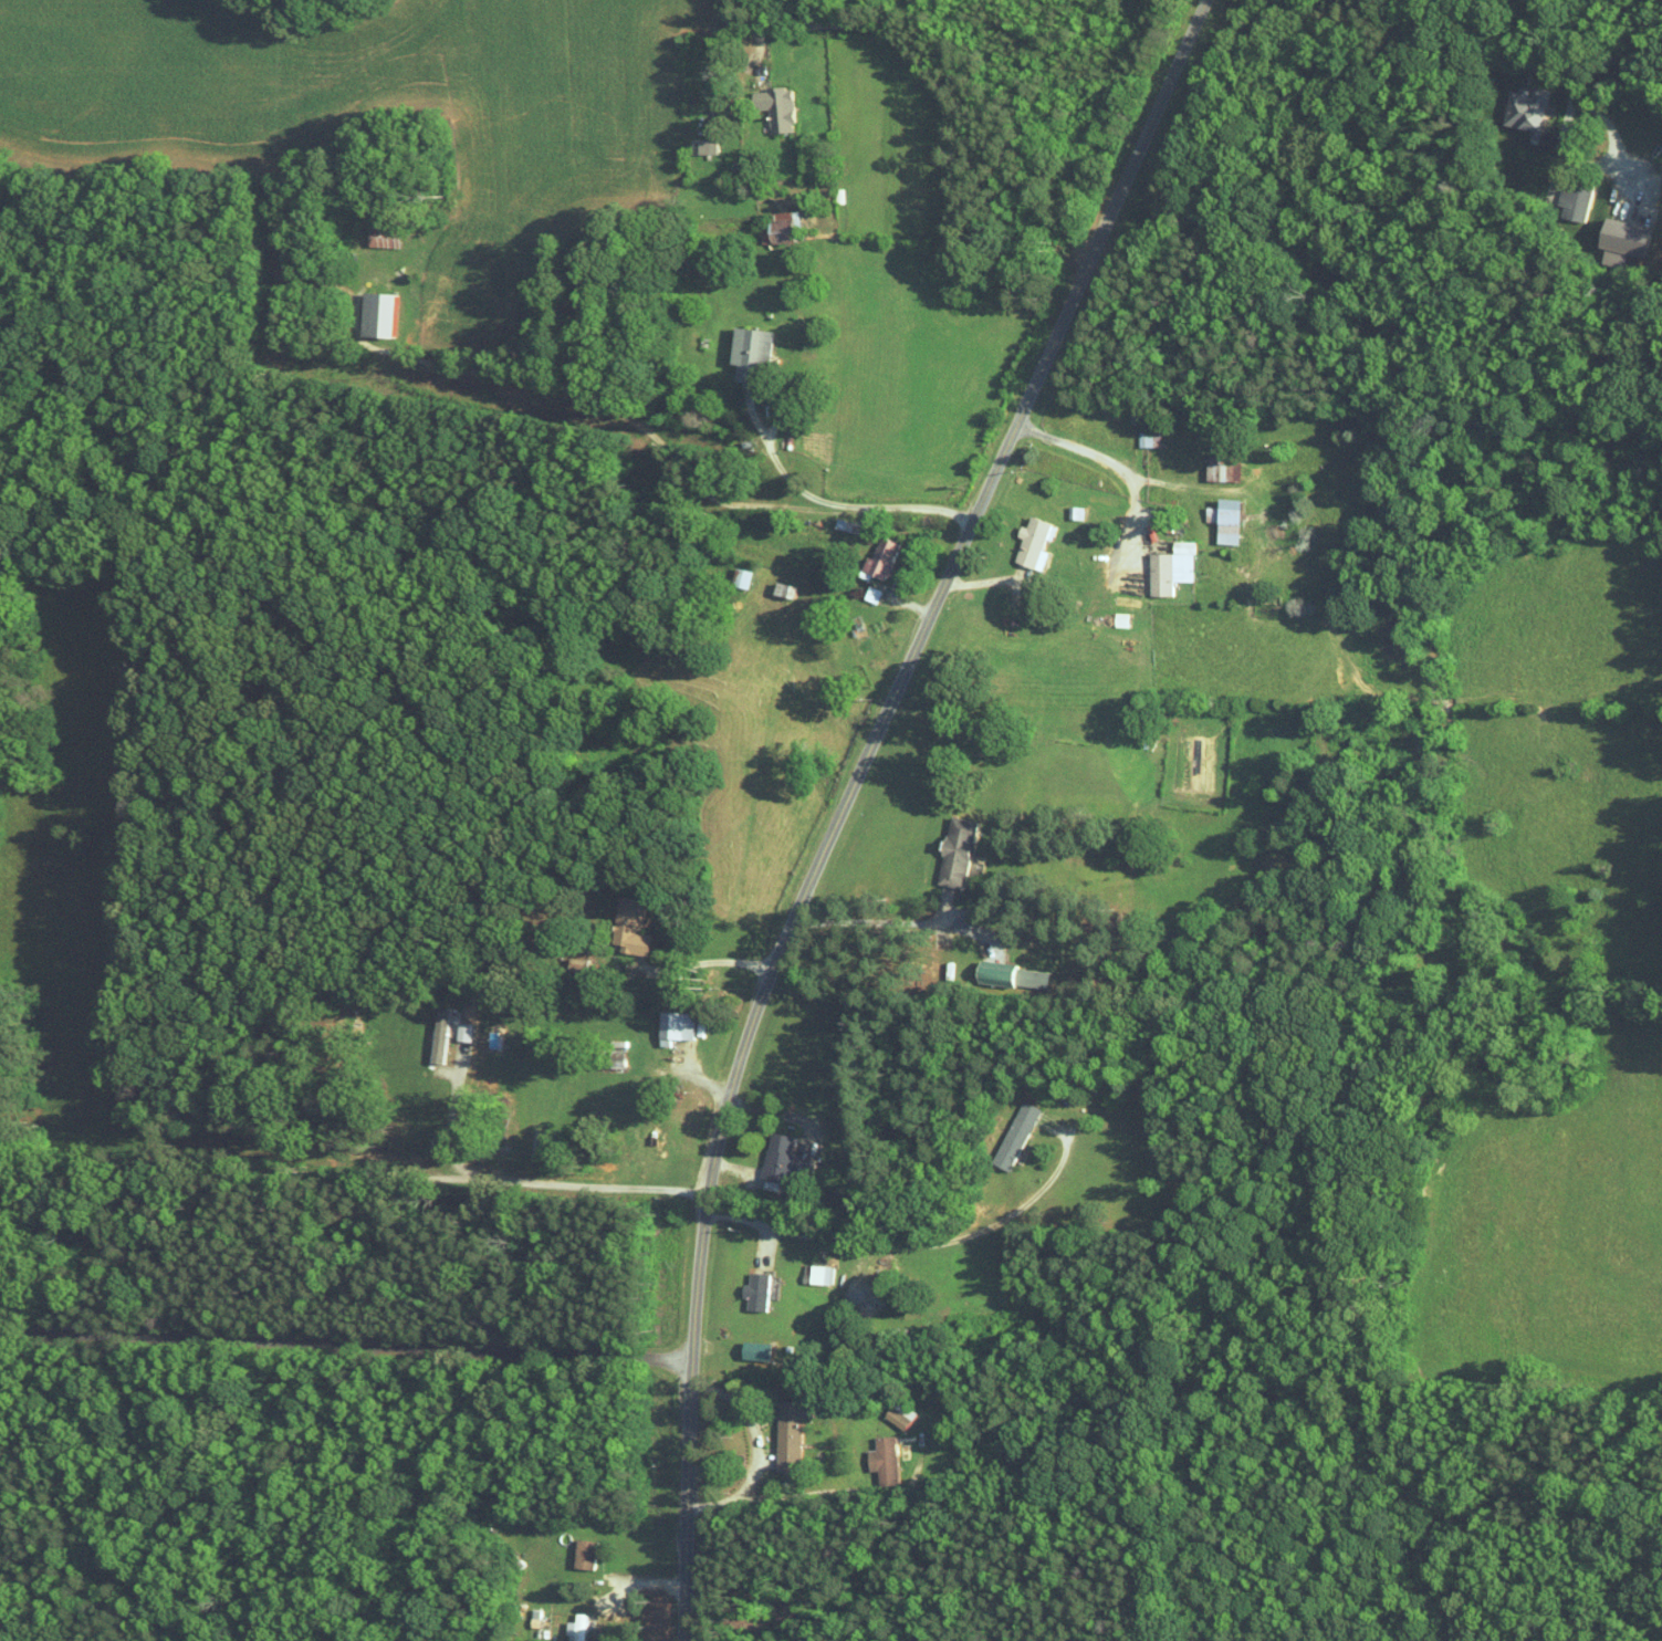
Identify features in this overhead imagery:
road: (930, 74)
road: (1579, 79)
building: (774, 107)
building: (1525, 107)
building: (705, 146)
building: (781, 228)
building: (381, 237)
building: (1621, 240)
building: (375, 314)
building: (749, 352)
road: (761, 433)
building: (1148, 439)
road: (672, 458)
road: (1114, 462)
building: (1221, 469)
building: (1224, 520)
building: (1031, 543)
building: (880, 557)
building: (1170, 567)
building: (1119, 619)
road: (848, 795)
building: (955, 851)
road: (880, 922)
building: (628, 928)
road: (710, 962)
building: (1011, 976)
building: (673, 1026)
building: (461, 1032)
building: (438, 1035)
road: (450, 1119)
building: (1014, 1136)
building: (781, 1160)
road: (354, 1175)
road: (913, 1245)
building: (818, 1274)
building: (755, 1292)
building: (754, 1351)
road: (344, 1353)
building: (899, 1414)
building: (788, 1433)
road: (756, 1451)
building: (884, 1456)
road: (808, 1494)
building: (582, 1557)
building: (575, 1628)

